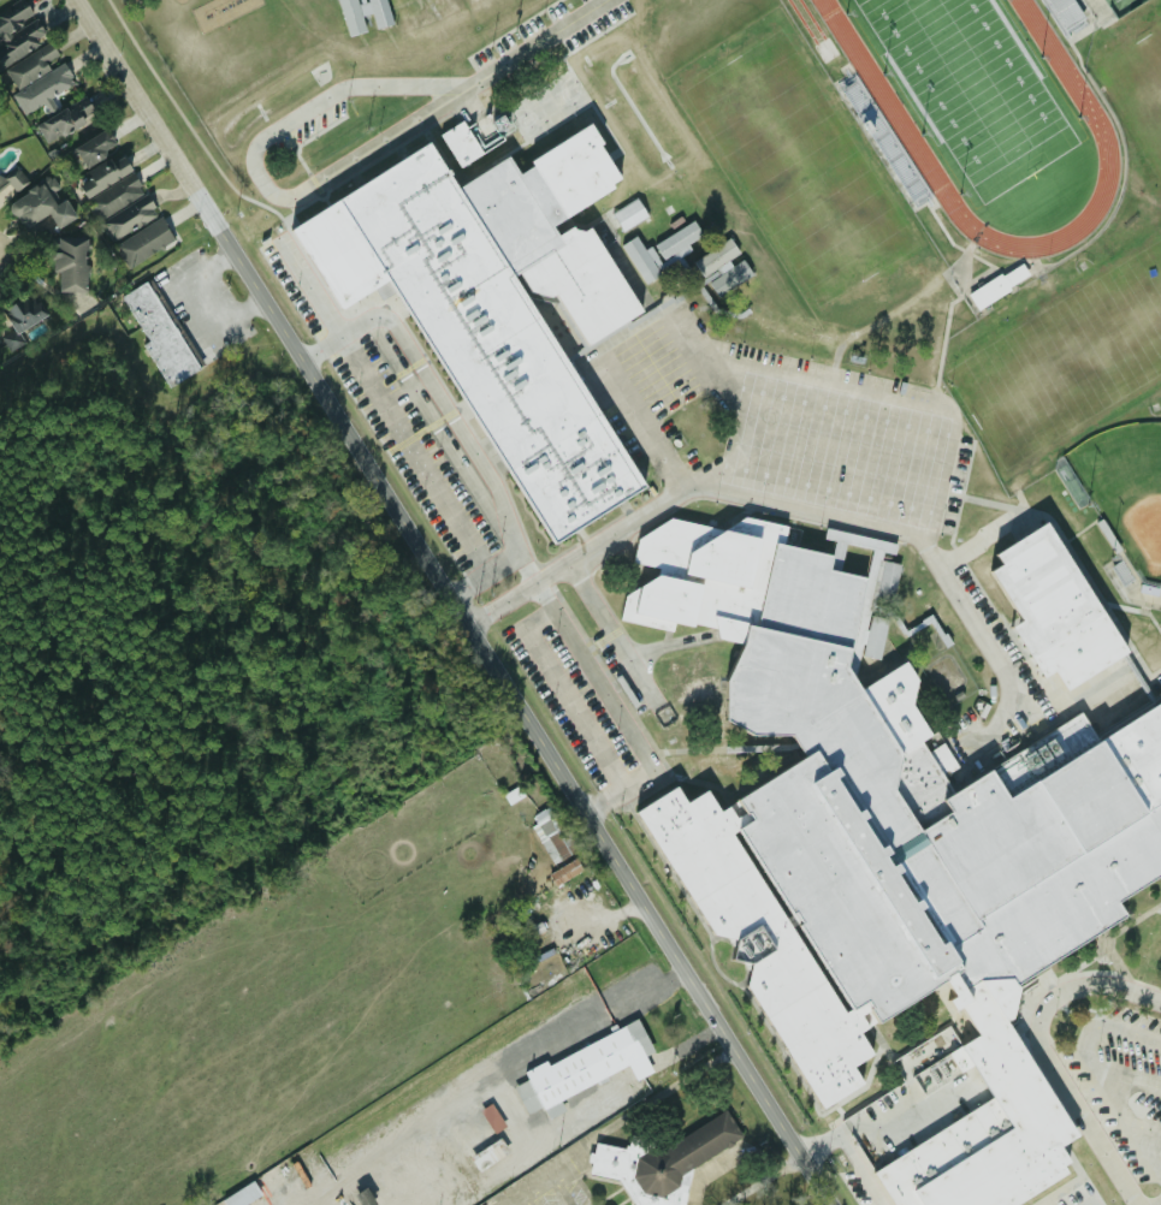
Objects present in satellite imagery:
building: (375, 12)
building: (350, 17)
road: (540, 41)
building: (22, 46)
park: (969, 89)
building: (41, 90)
track: (978, 101)
building: (64, 119)
track: (902, 129)
building: (460, 143)
building: (91, 148)
road: (262, 174)
building: (102, 176)
building: (11, 184)
building: (40, 206)
building: (119, 207)
building: (628, 214)
road: (254, 221)
building: (142, 242)
road: (1079, 245)
building: (659, 250)
road: (7, 253)
building: (69, 263)
building: (721, 267)
building: (995, 286)
road: (313, 289)
road: (212, 301)
building: (497, 304)
building: (22, 317)
building: (158, 336)
parking lot: (656, 370)
road: (847, 393)
road: (443, 406)
parking lot: (841, 437)
park: (1125, 489)
road: (962, 492)
road: (689, 498)
road: (752, 498)
road: (584, 554)
building: (722, 559)
road: (444, 575)
building: (885, 577)
building: (693, 580)
building: (1042, 589)
building: (807, 598)
building: (859, 622)
road: (1154, 623)
road: (615, 631)
building: (872, 637)
road: (669, 646)
road: (1123, 655)
road: (1149, 673)
building: (688, 677)
road: (608, 678)
parking lot: (573, 705)
road: (614, 706)
building: (1126, 717)
building: (907, 744)
road: (716, 747)
building: (1041, 755)
building: (717, 766)
building: (971, 815)
building: (549, 835)
building: (564, 872)
building: (839, 889)
road: (617, 909)
road: (1157, 909)
road: (721, 939)
building: (760, 945)
building: (1155, 950)
road: (1120, 972)
road: (742, 974)
road: (657, 990)
crop: (319, 998)
road: (977, 1044)
road: (887, 1051)
road: (661, 1065)
building: (584, 1069)
parking lot: (1123, 1079)
road: (802, 1086)
road: (1049, 1092)
road: (645, 1105)
road: (514, 1110)
road: (466, 1111)
road: (1080, 1111)
building: (480, 1136)
parking lot: (979, 1150)
building: (663, 1161)
road: (858, 1169)
road: (764, 1179)
road: (822, 1180)
road: (531, 1188)
road: (567, 1188)
building: (241, 1195)
building: (362, 1198)

